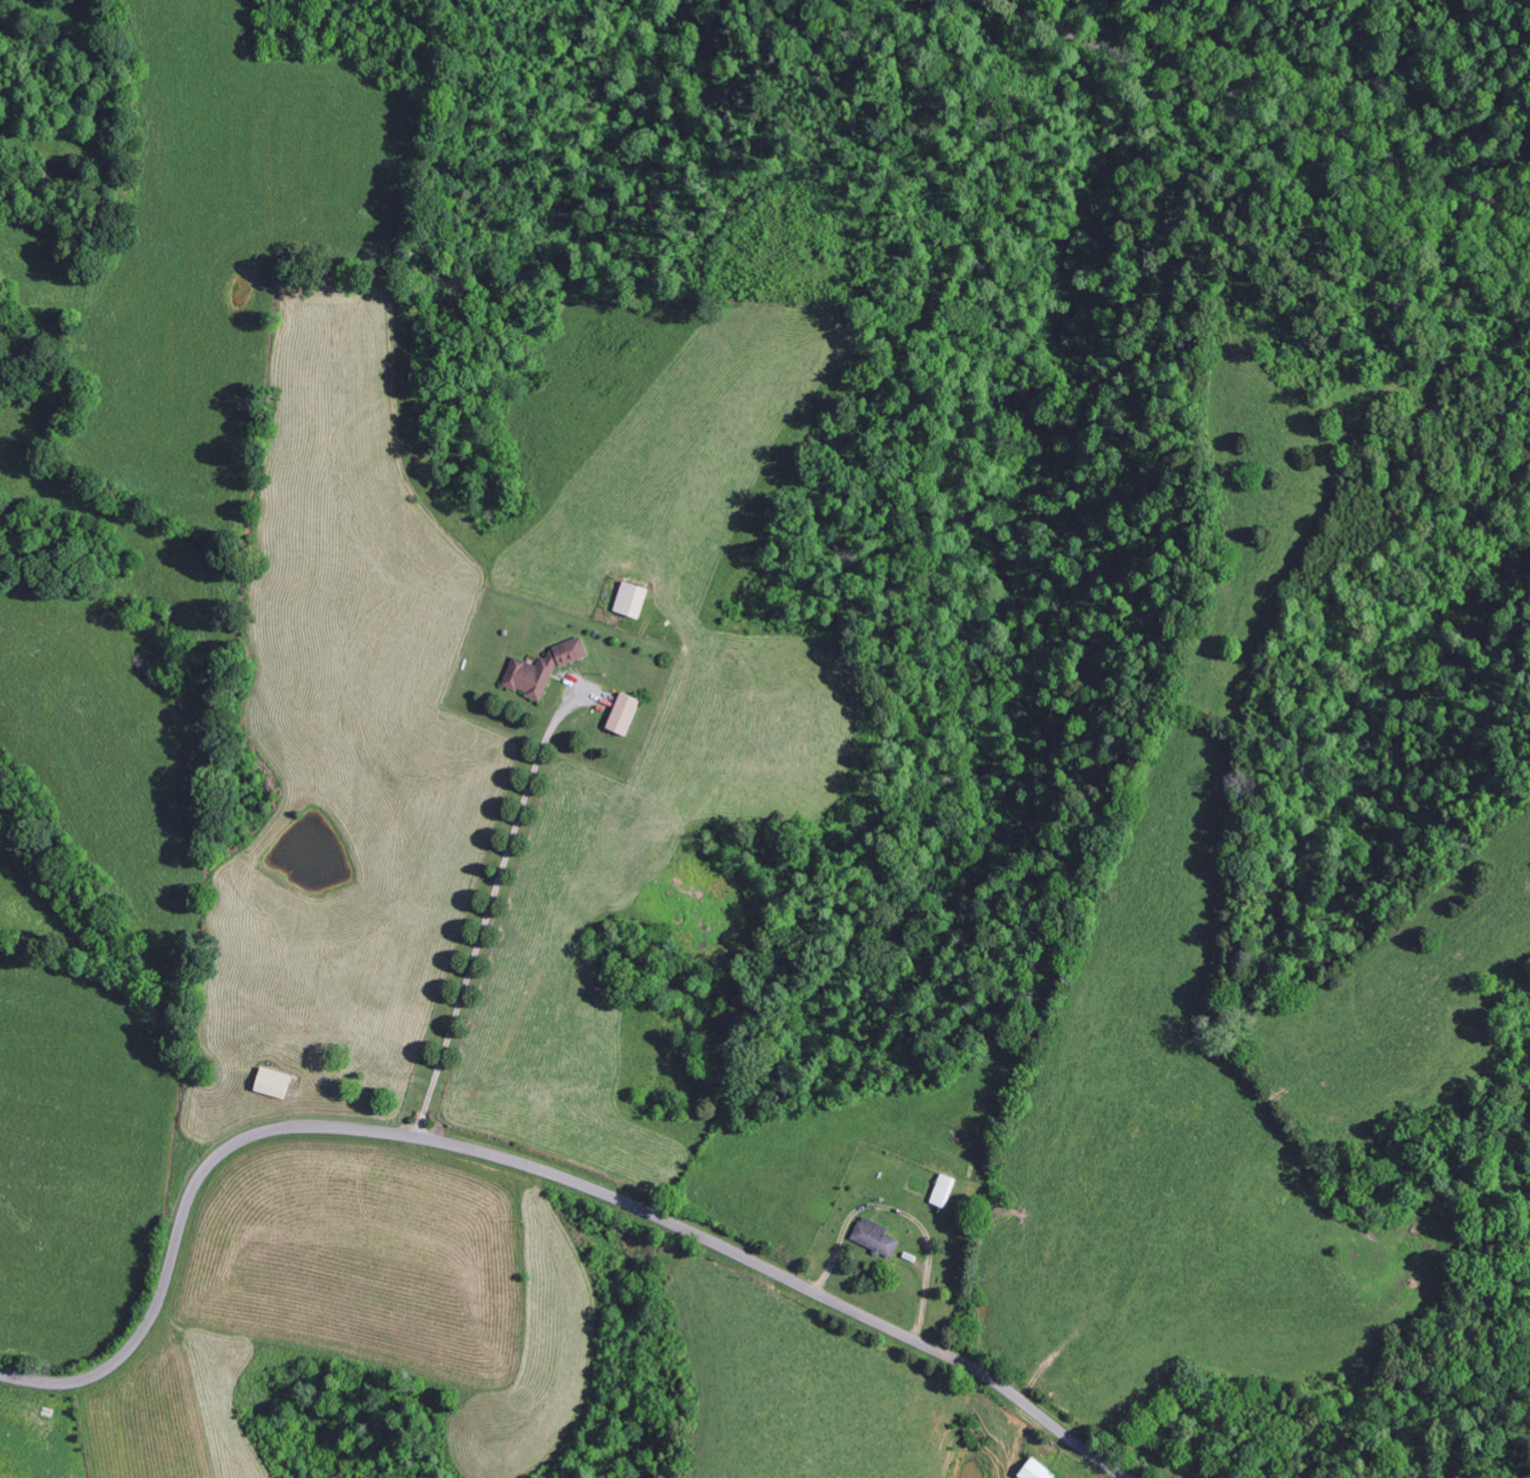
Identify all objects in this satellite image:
road: (1254, 119)
building: (628, 600)
building: (539, 669)
building: (620, 714)
building: (268, 1083)
road: (528, 1168)
building: (871, 1236)

